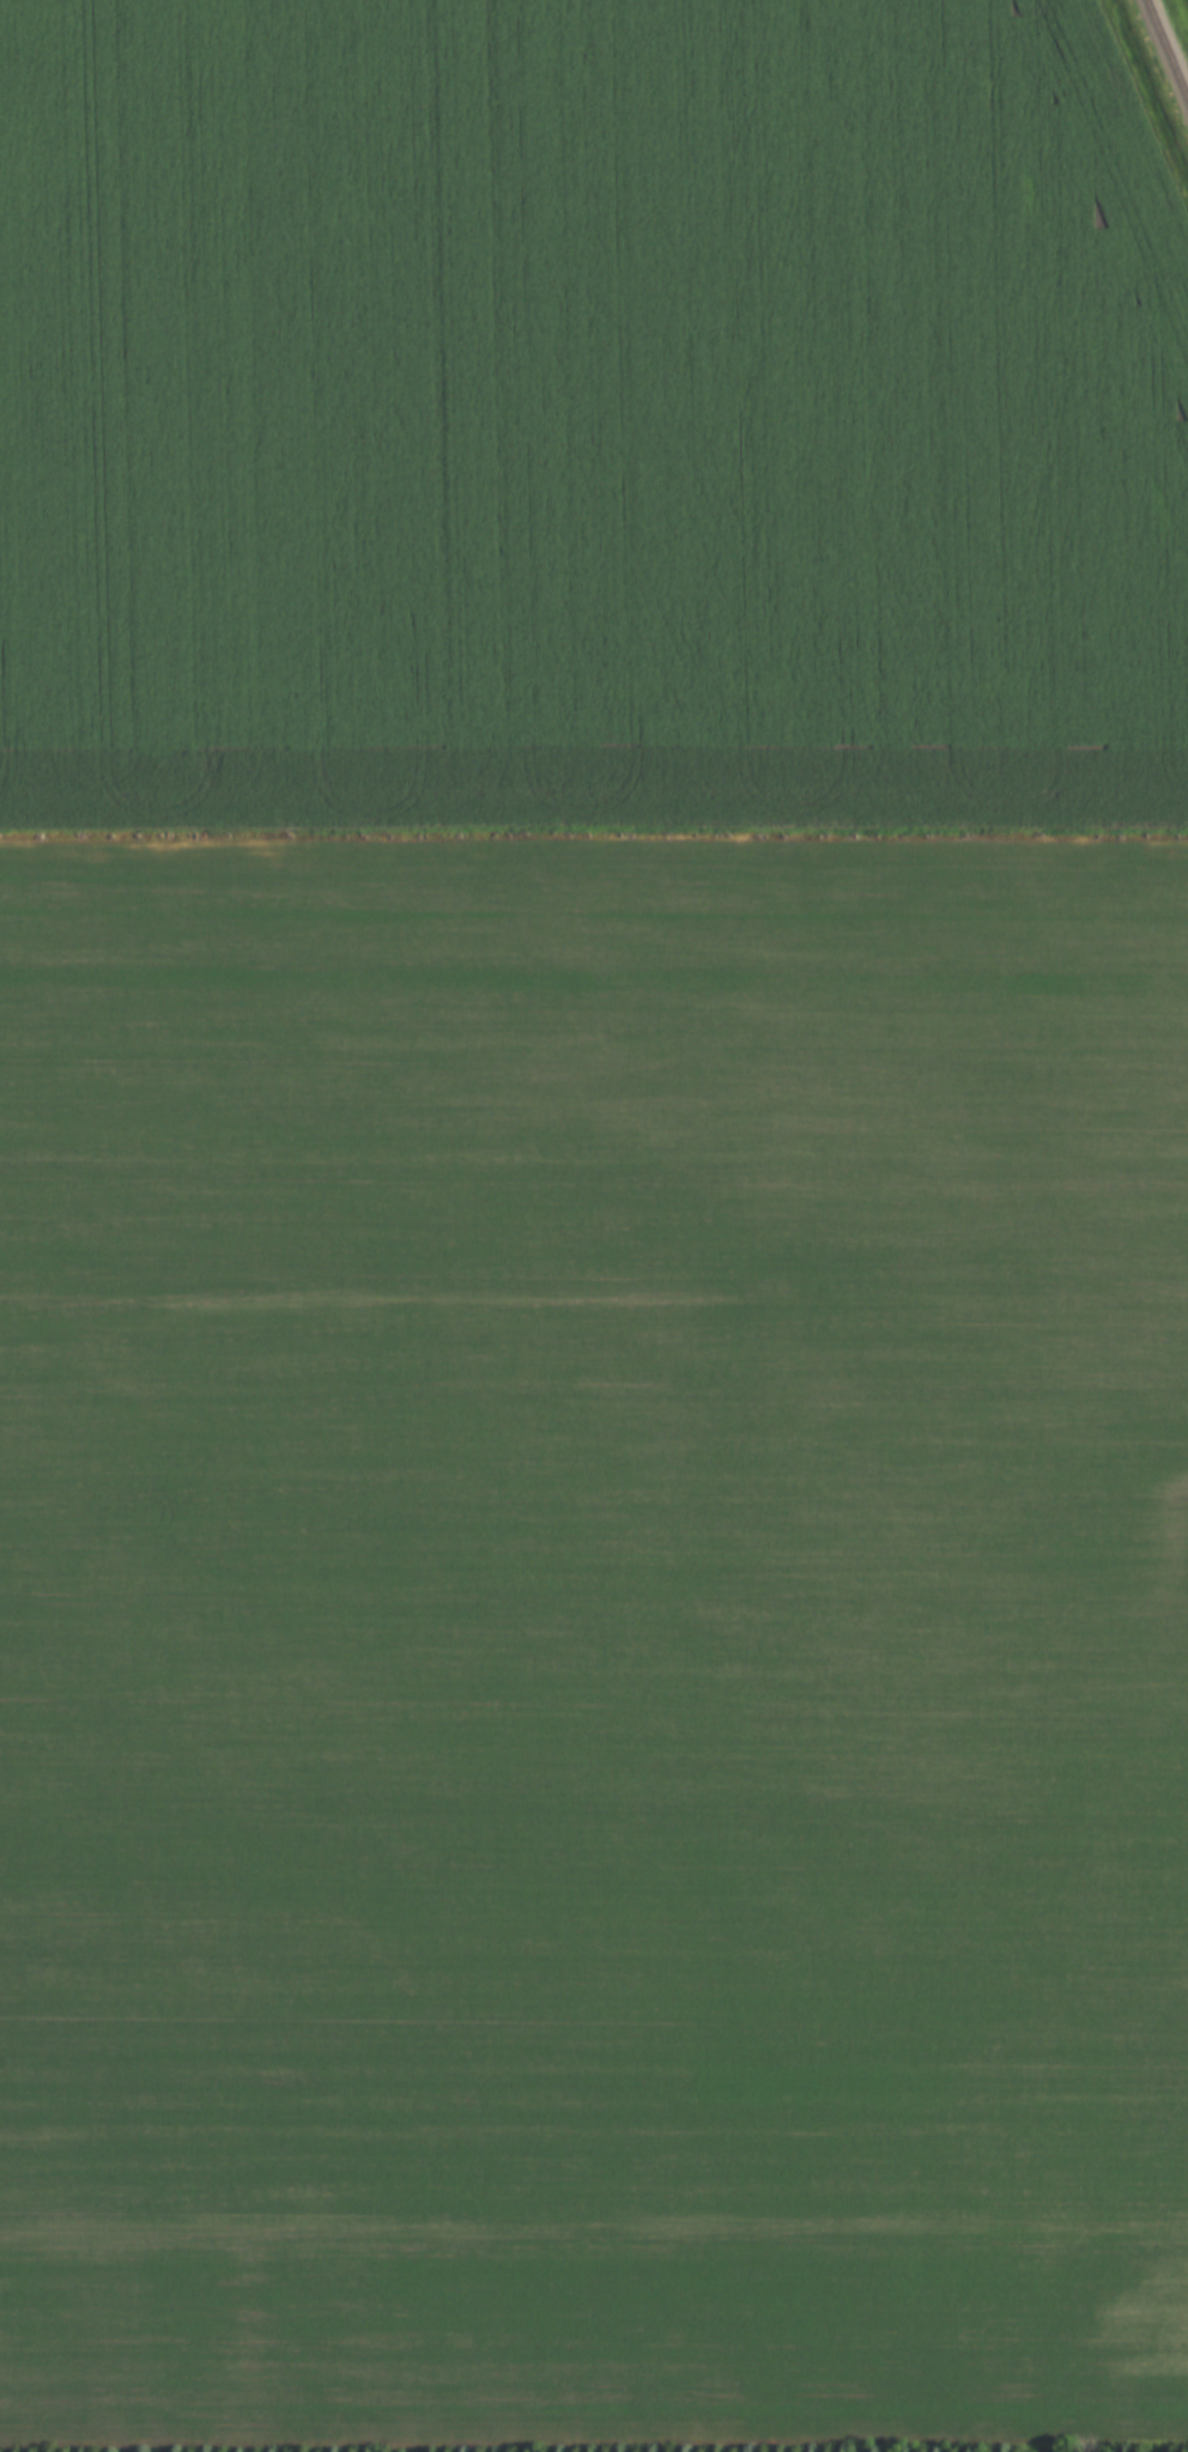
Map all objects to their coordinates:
railway: (1163, 57)

